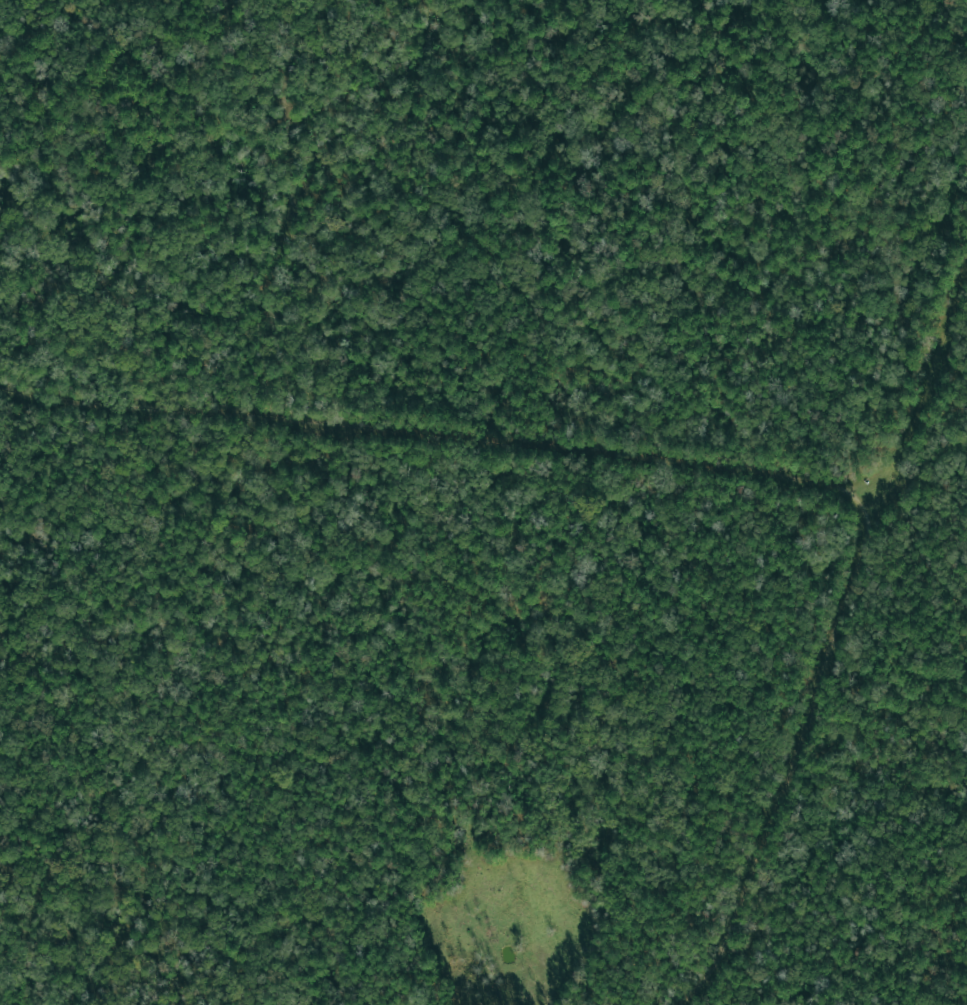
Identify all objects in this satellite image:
road: (435, 437)
road: (788, 758)

